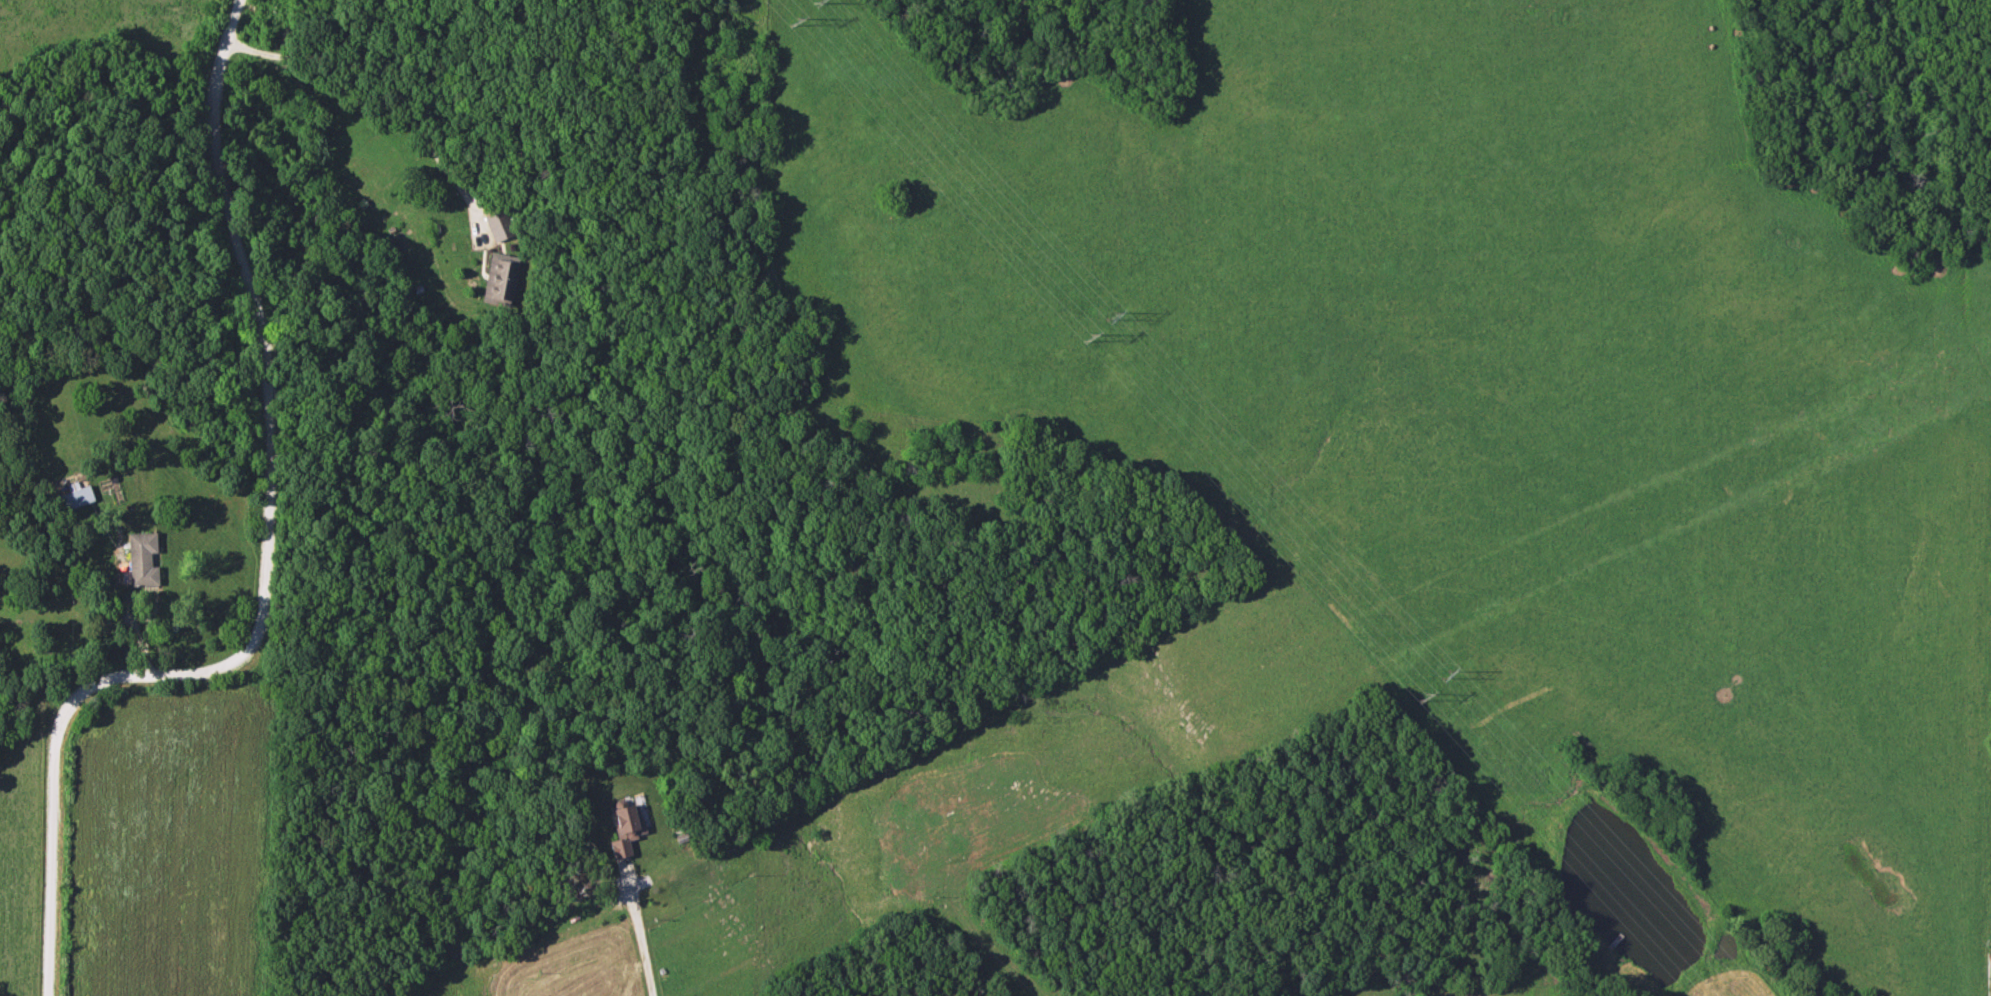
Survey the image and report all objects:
power tower: (793, 22)
road: (383, 78)
building: (498, 225)
building: (498, 280)
power tower: (1111, 317)
power tower: (1087, 338)
building: (74, 499)
building: (140, 560)
road: (261, 566)
power tower: (1444, 675)
power tower: (1422, 696)
building: (624, 829)
road: (639, 937)

